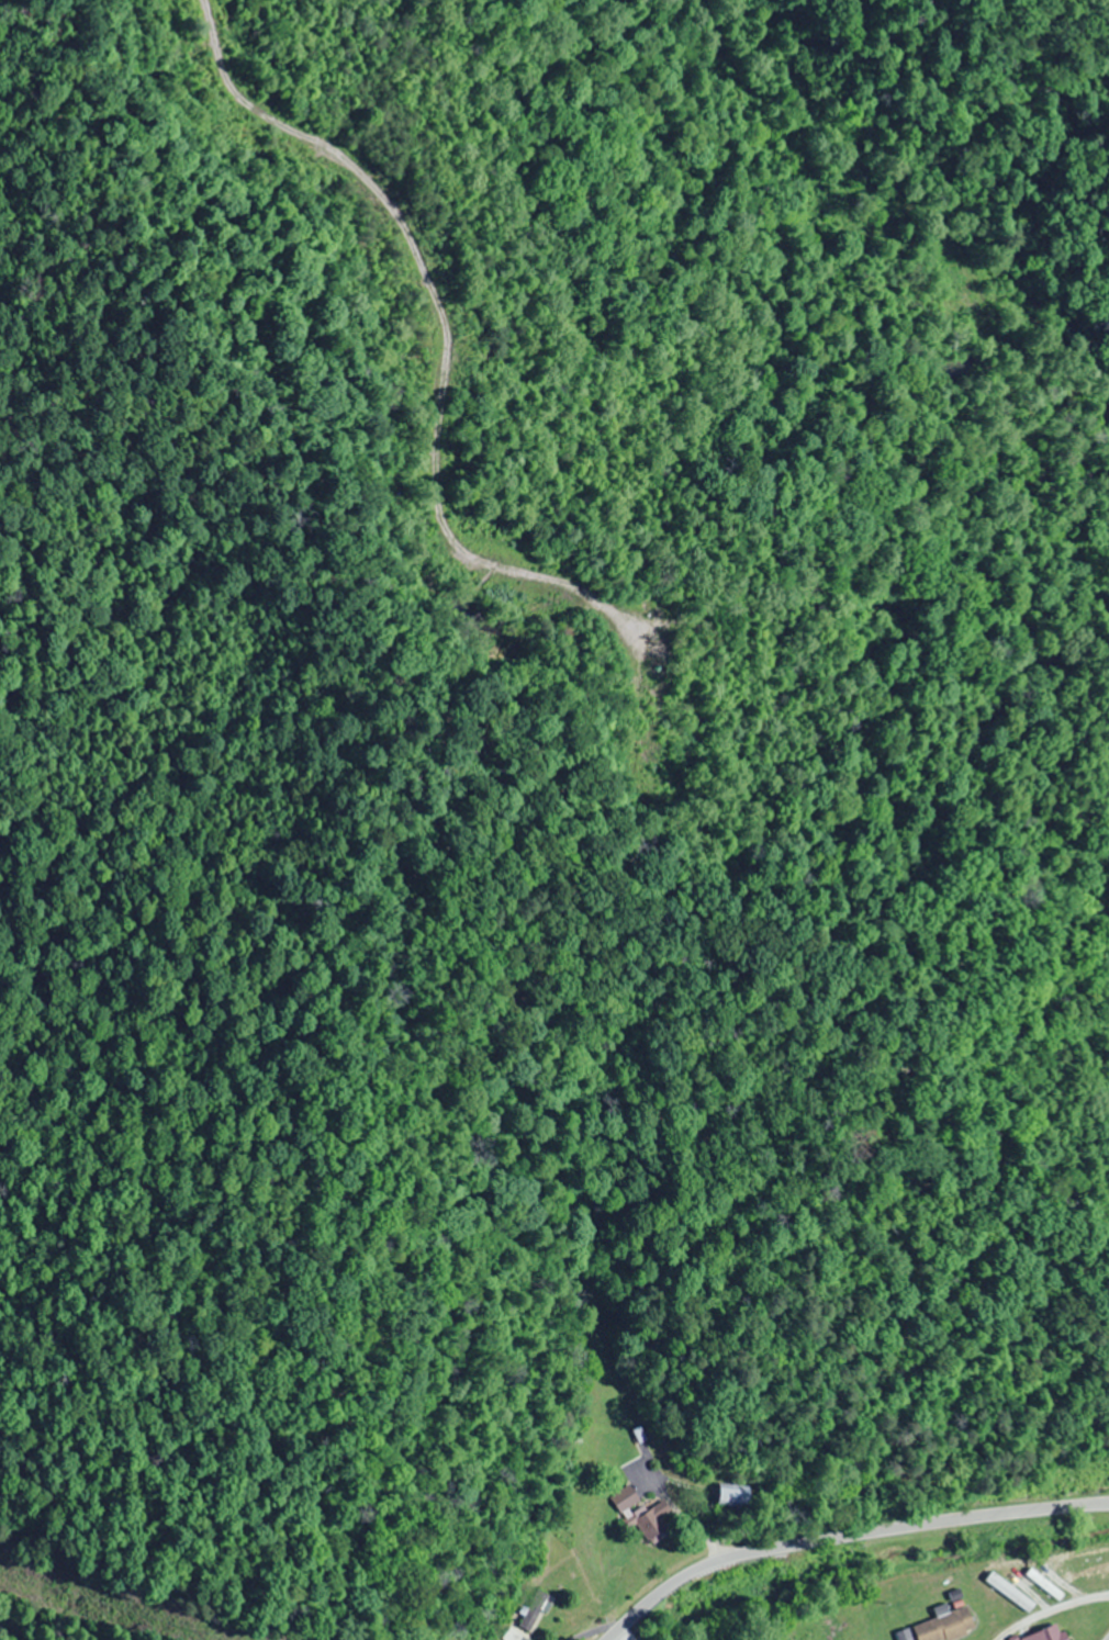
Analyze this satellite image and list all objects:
building: (729, 1496)
building: (648, 1523)
road: (843, 1538)
building: (533, 1609)
building: (945, 1626)
building: (1046, 1633)
road: (0, 1639)
road: (1108, 1639)

